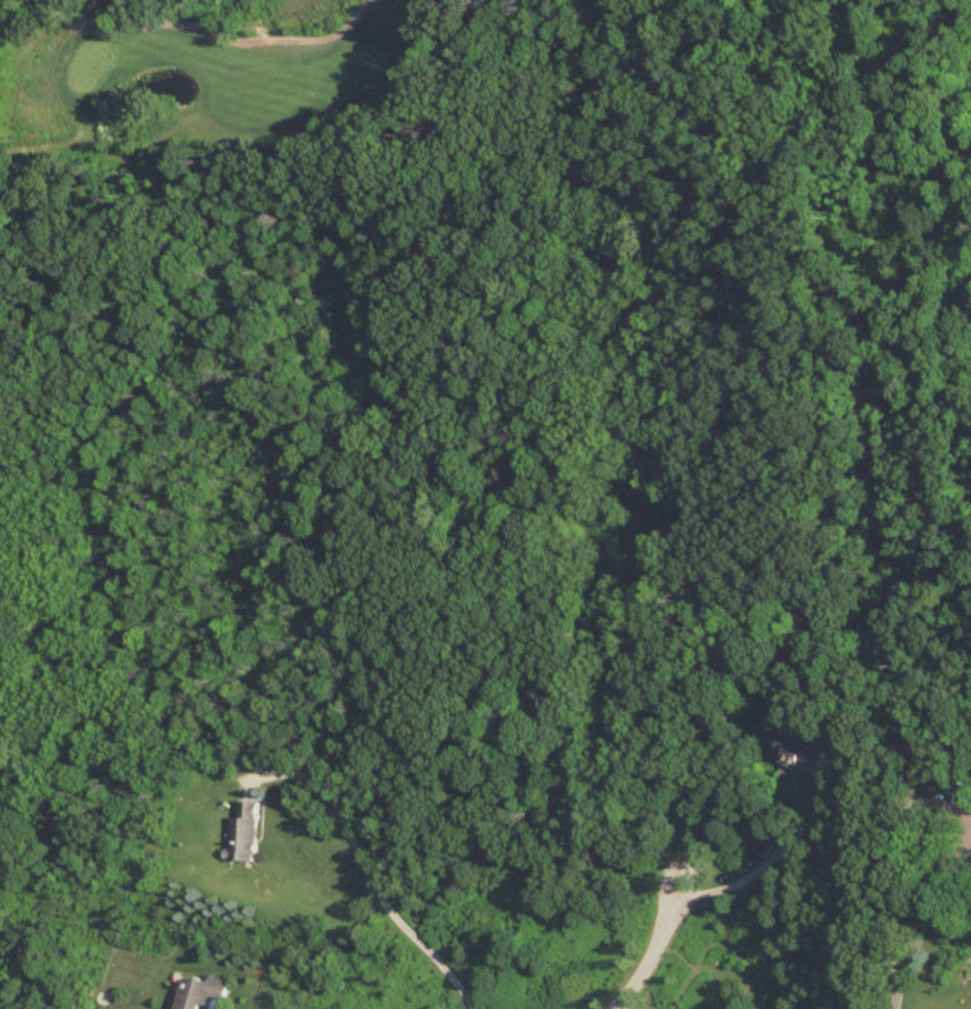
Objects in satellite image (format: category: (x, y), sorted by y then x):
park: (215, 128)
building: (917, 752)
building: (804, 757)
building: (242, 832)
road: (763, 864)
road: (366, 882)
road: (923, 919)
road: (651, 948)
building: (198, 992)

